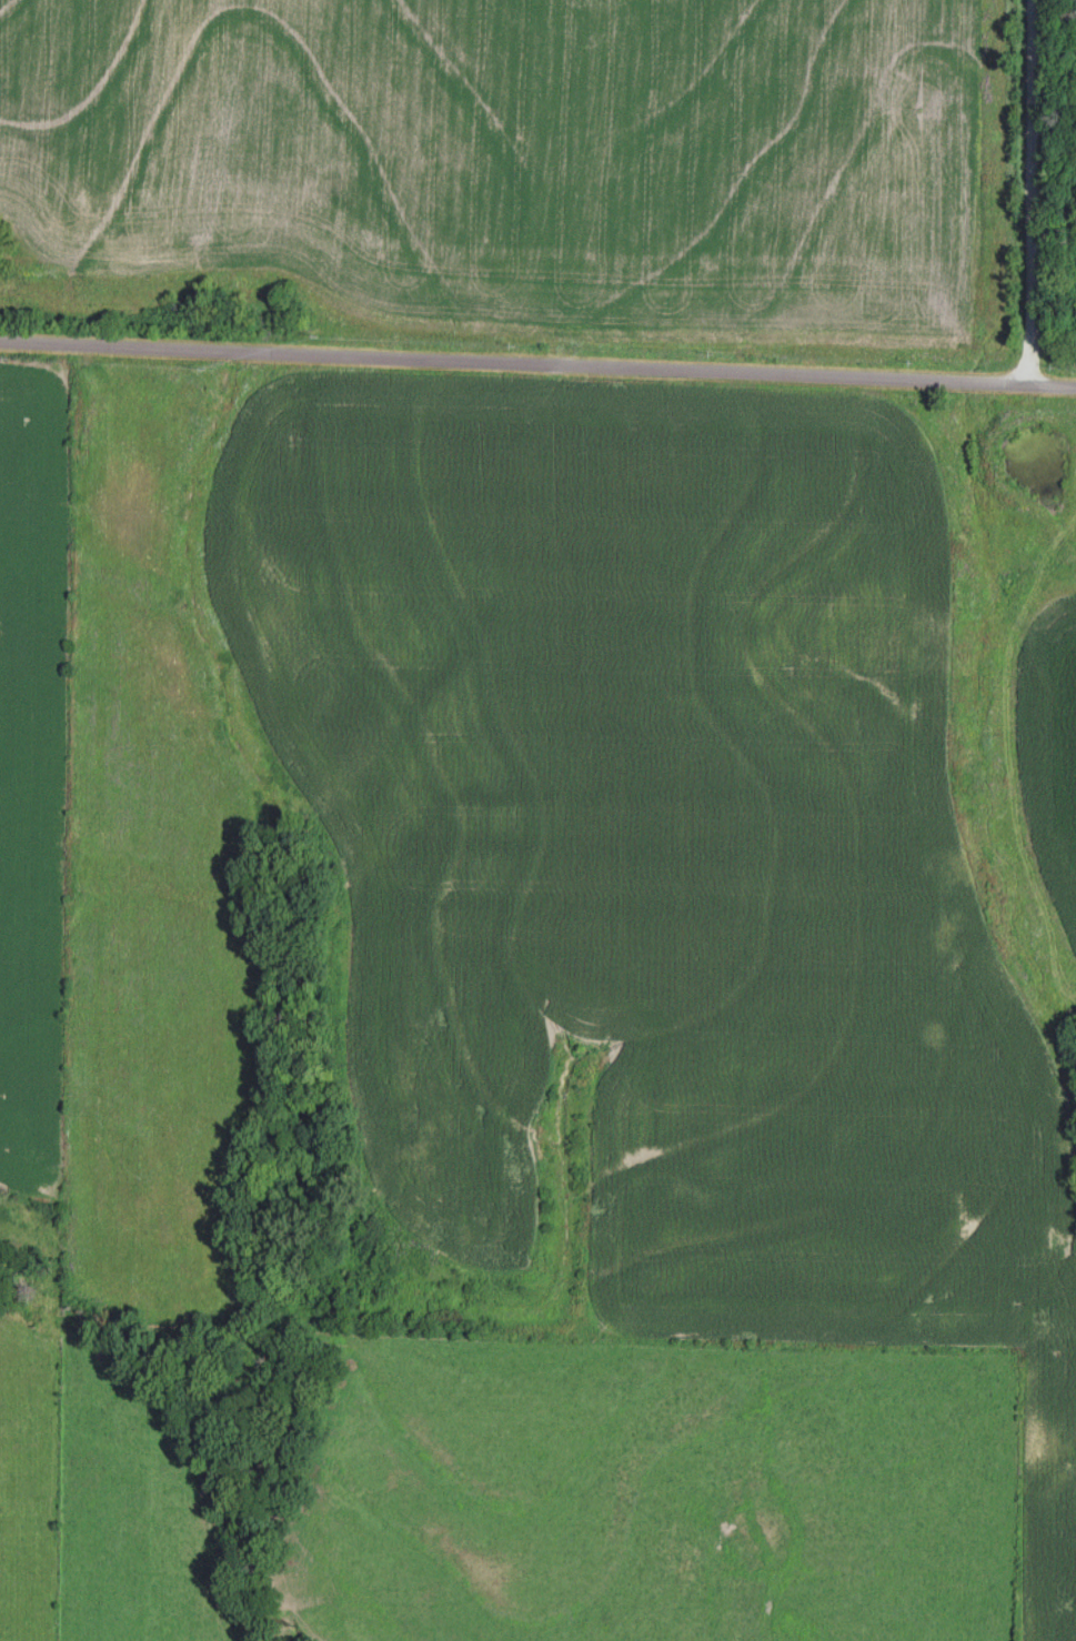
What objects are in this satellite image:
road: (1030, 192)
road: (537, 362)

